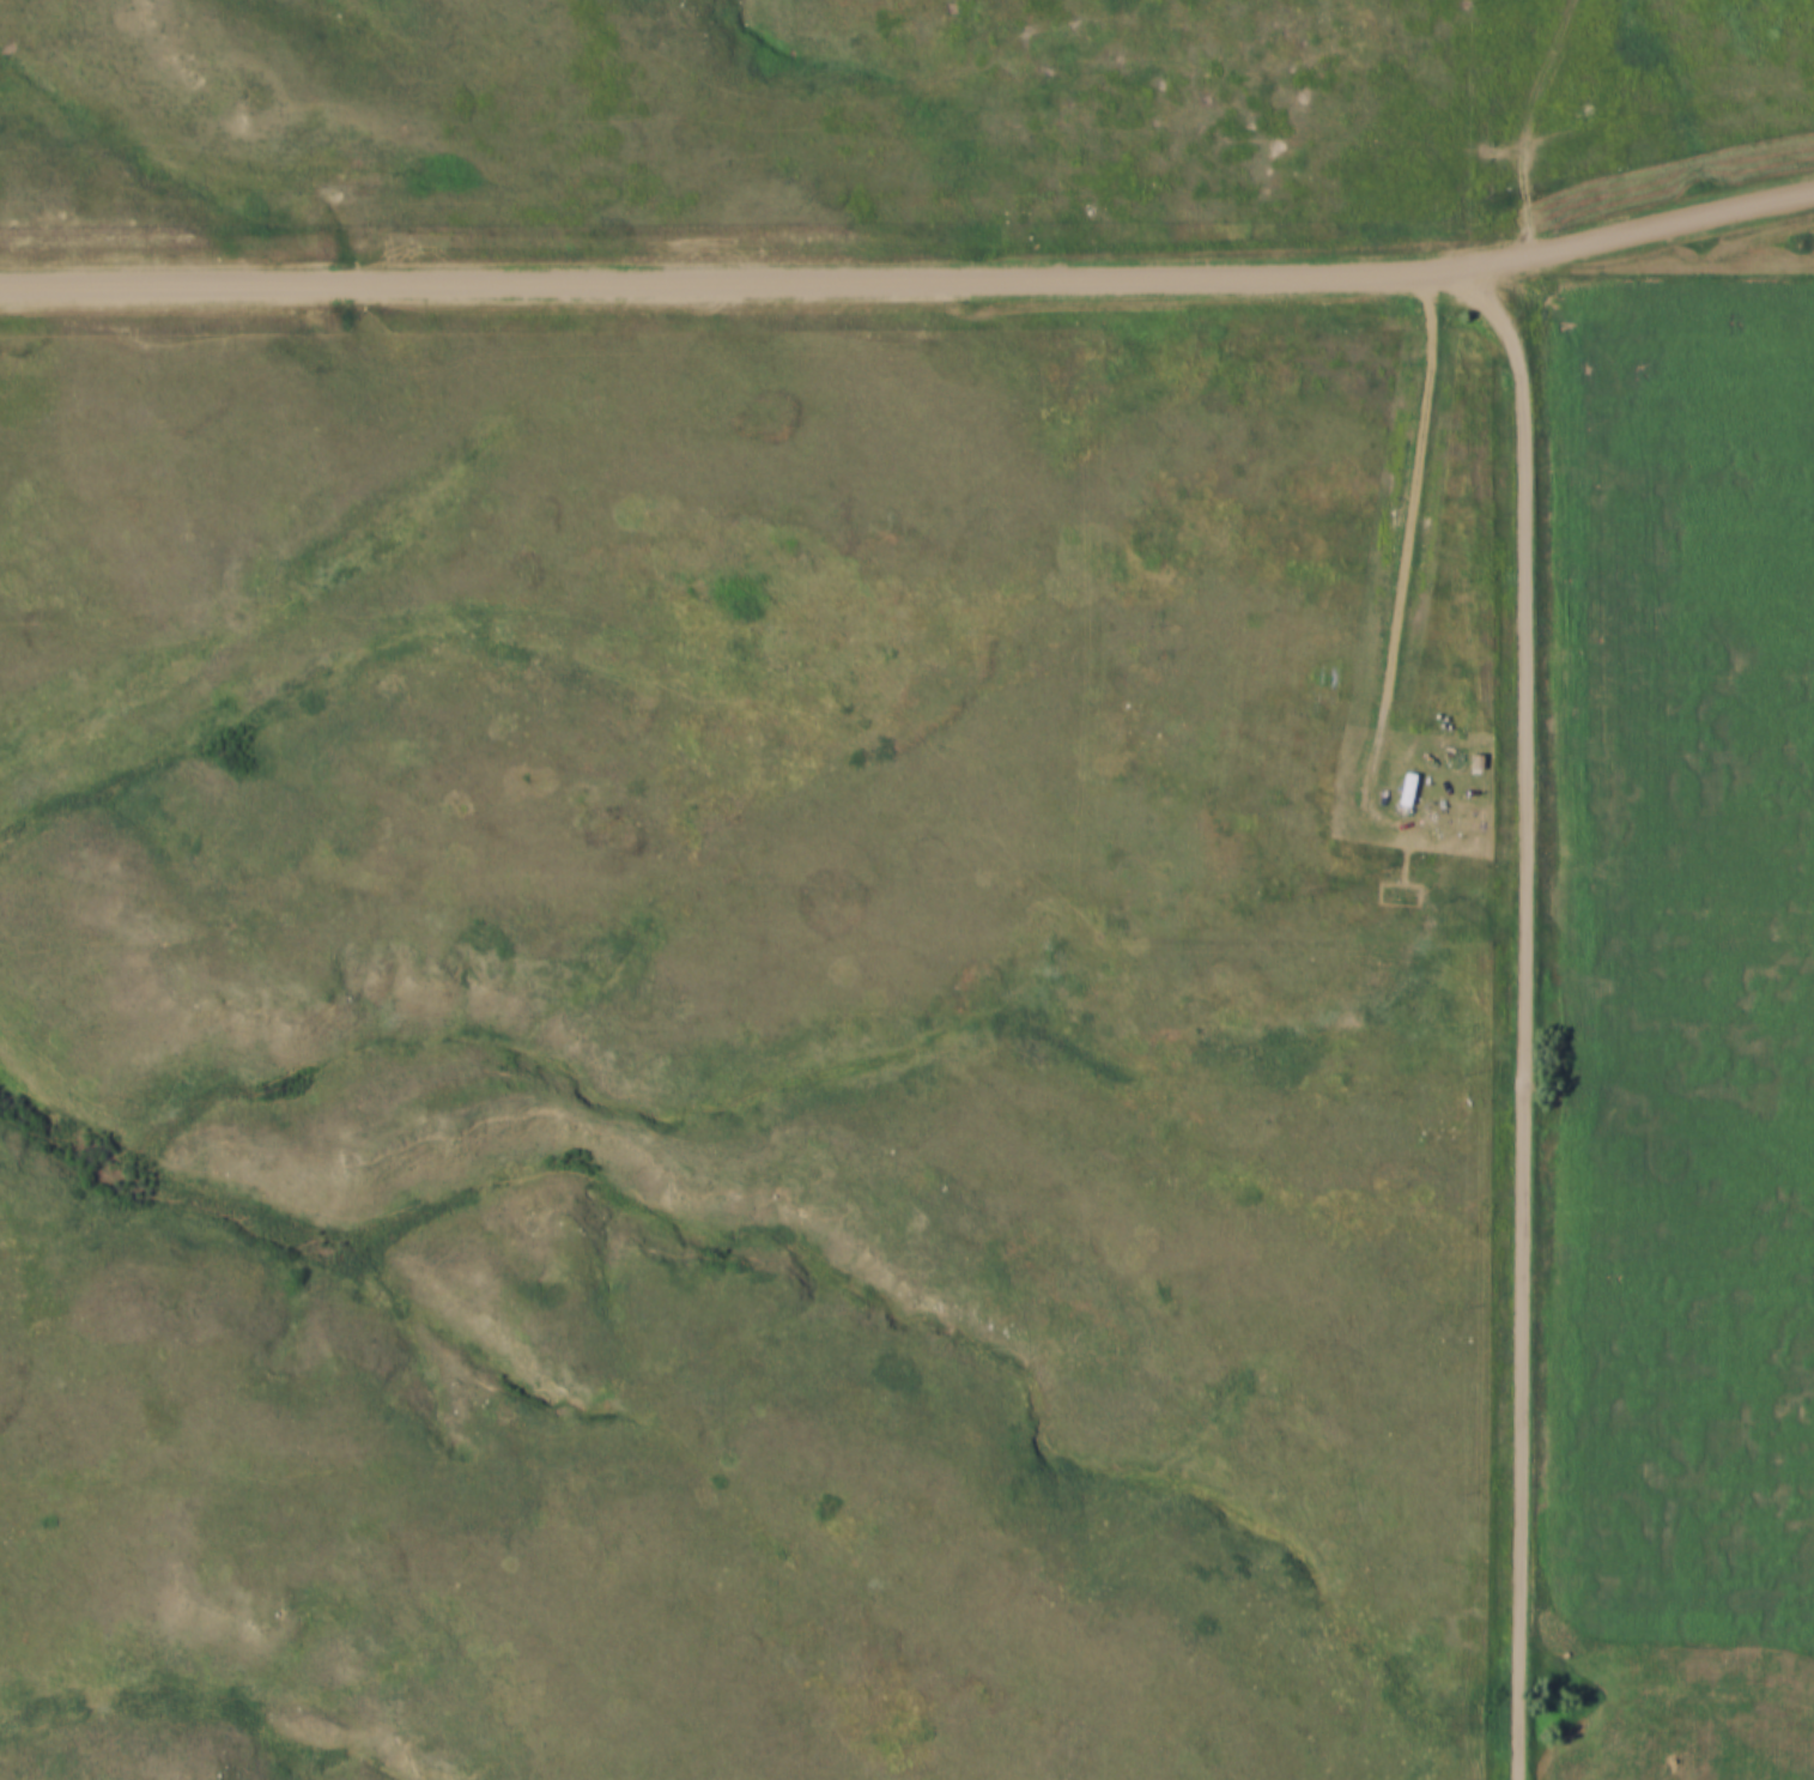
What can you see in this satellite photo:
road: (1628, 230)
road: (722, 279)
road: (1408, 533)
building: (1476, 756)
building: (1408, 783)
road: (1530, 1007)

